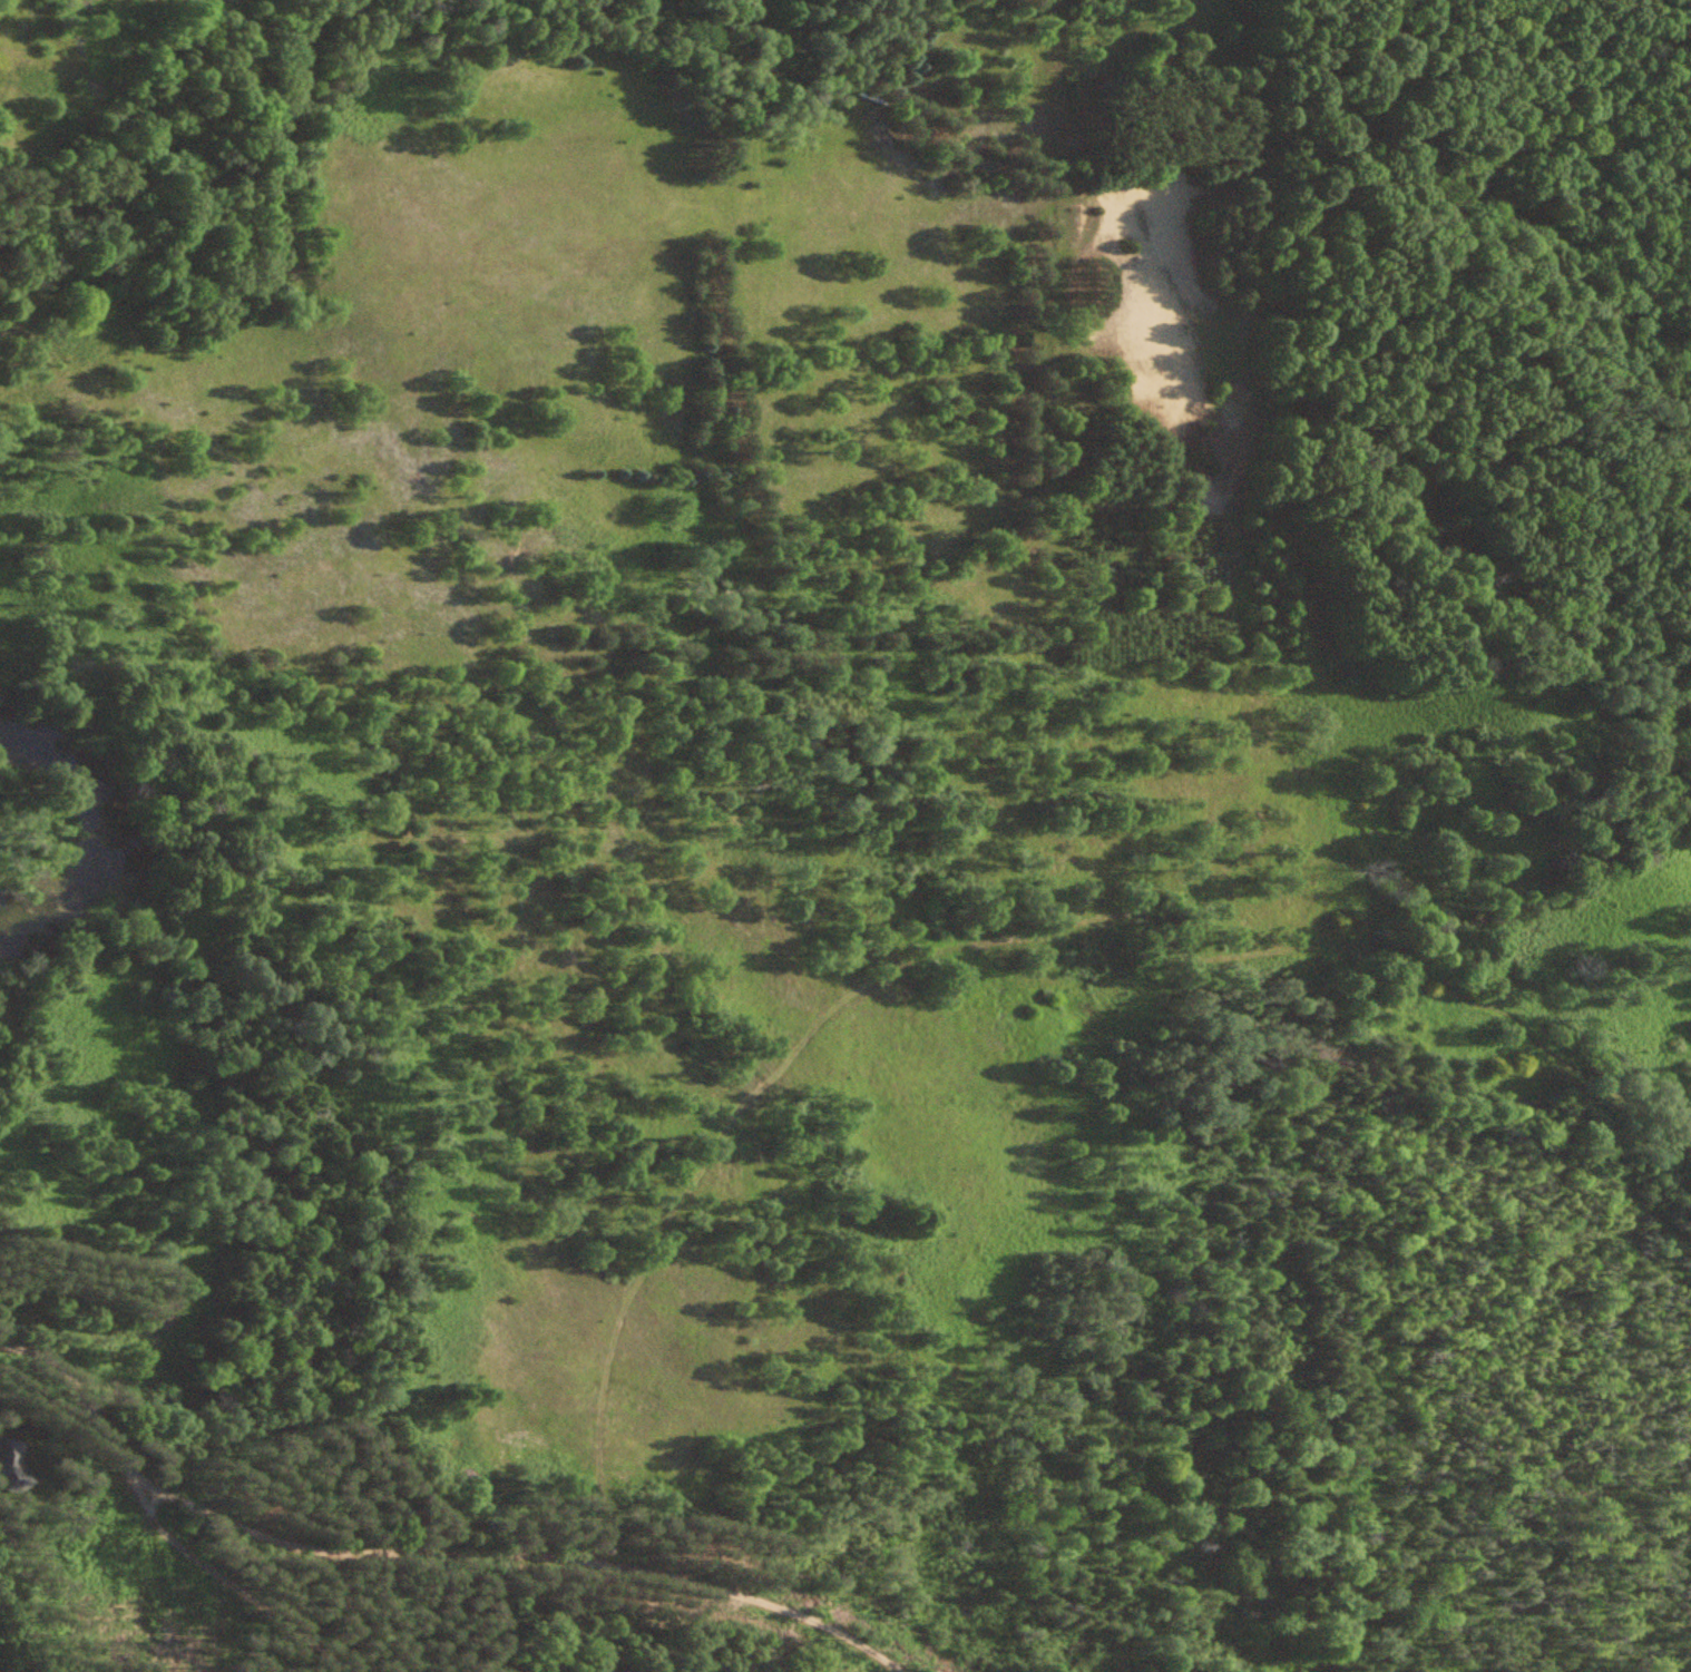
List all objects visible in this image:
road: (960, 946)
road: (1678, 1127)
building: (11, 1450)
road: (418, 1547)

